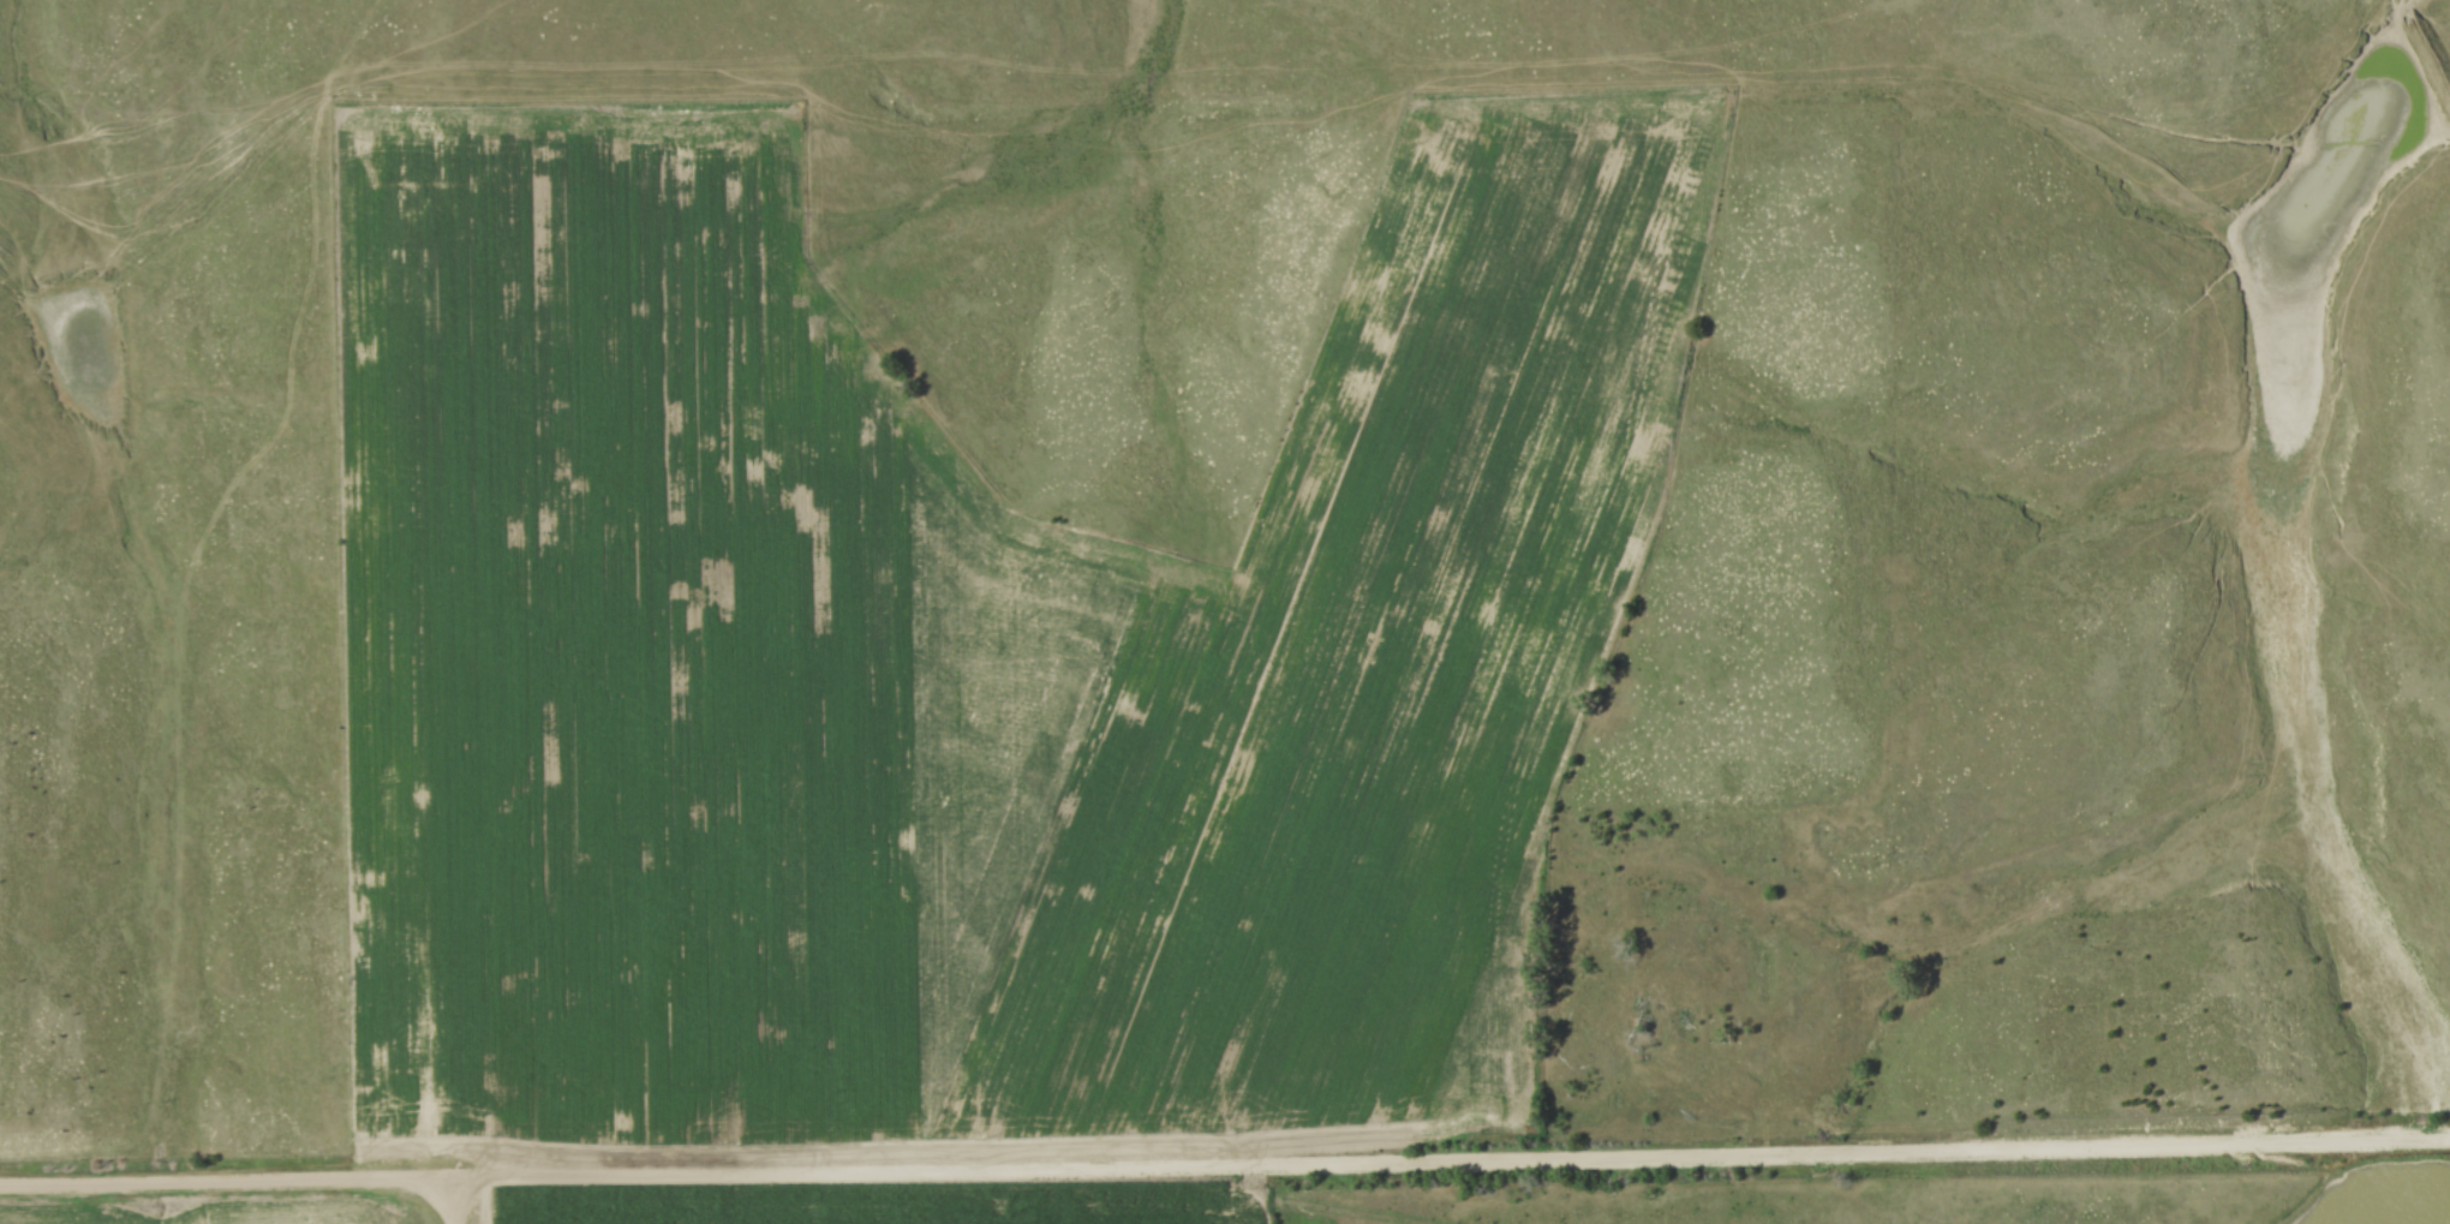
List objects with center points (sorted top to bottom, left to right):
road: (1225, 1168)
road: (458, 1200)

